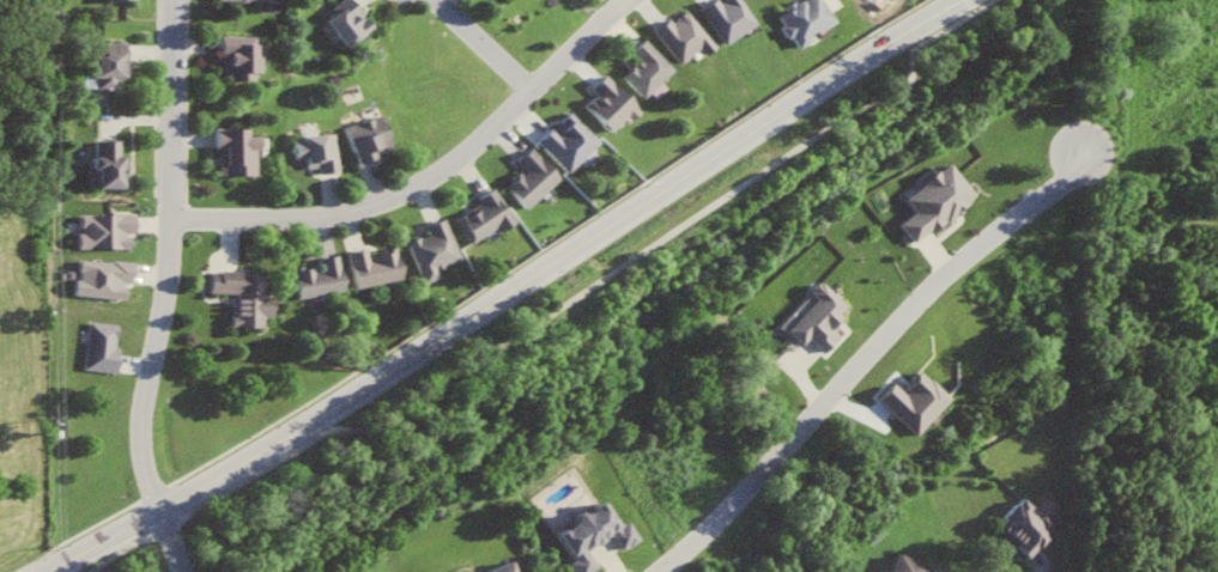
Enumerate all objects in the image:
building: (248, 0)
road: (964, 7)
building: (734, 18)
building: (811, 20)
building: (355, 22)
building: (691, 37)
road: (487, 44)
building: (247, 57)
building: (113, 66)
building: (654, 71)
building: (617, 104)
road: (176, 110)
building: (376, 139)
building: (576, 144)
building: (244, 152)
building: (325, 152)
building: (114, 165)
building: (538, 178)
road: (434, 179)
building: (940, 202)
building: (489, 218)
building: (111, 231)
building: (440, 250)
building: (381, 267)
building: (109, 278)
building: (326, 279)
road: (503, 288)
park: (1147, 292)
building: (250, 297)
road: (545, 314)
building: (822, 318)
building: (108, 347)
road: (858, 367)
road: (149, 398)
building: (920, 401)
building: (1028, 527)
building: (600, 536)
building: (913, 565)
building: (511, 568)

